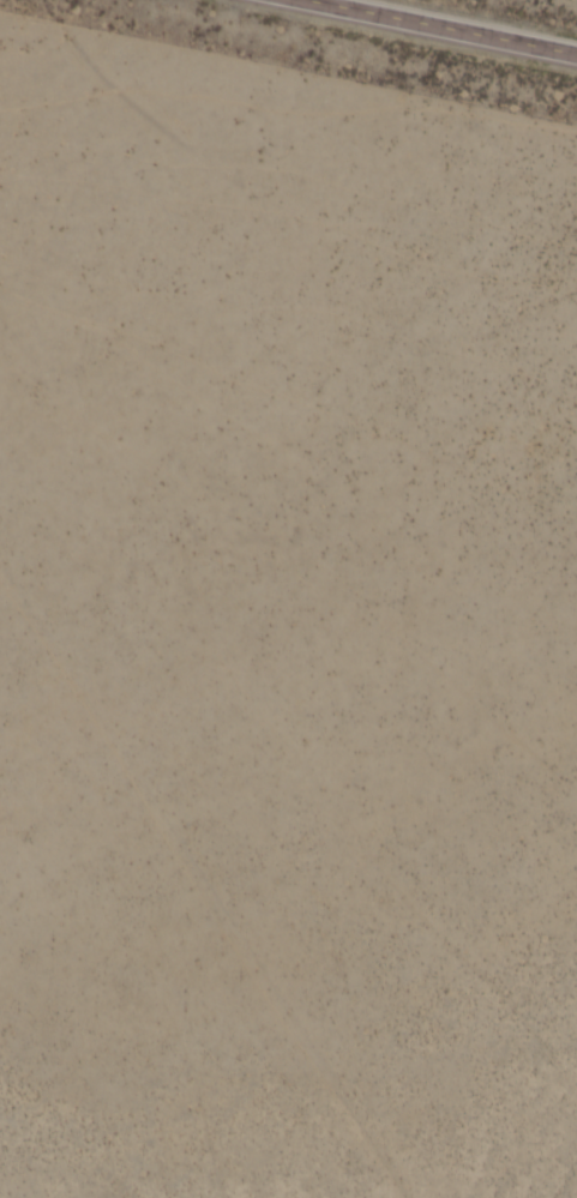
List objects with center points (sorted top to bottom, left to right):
road: (437, 28)

